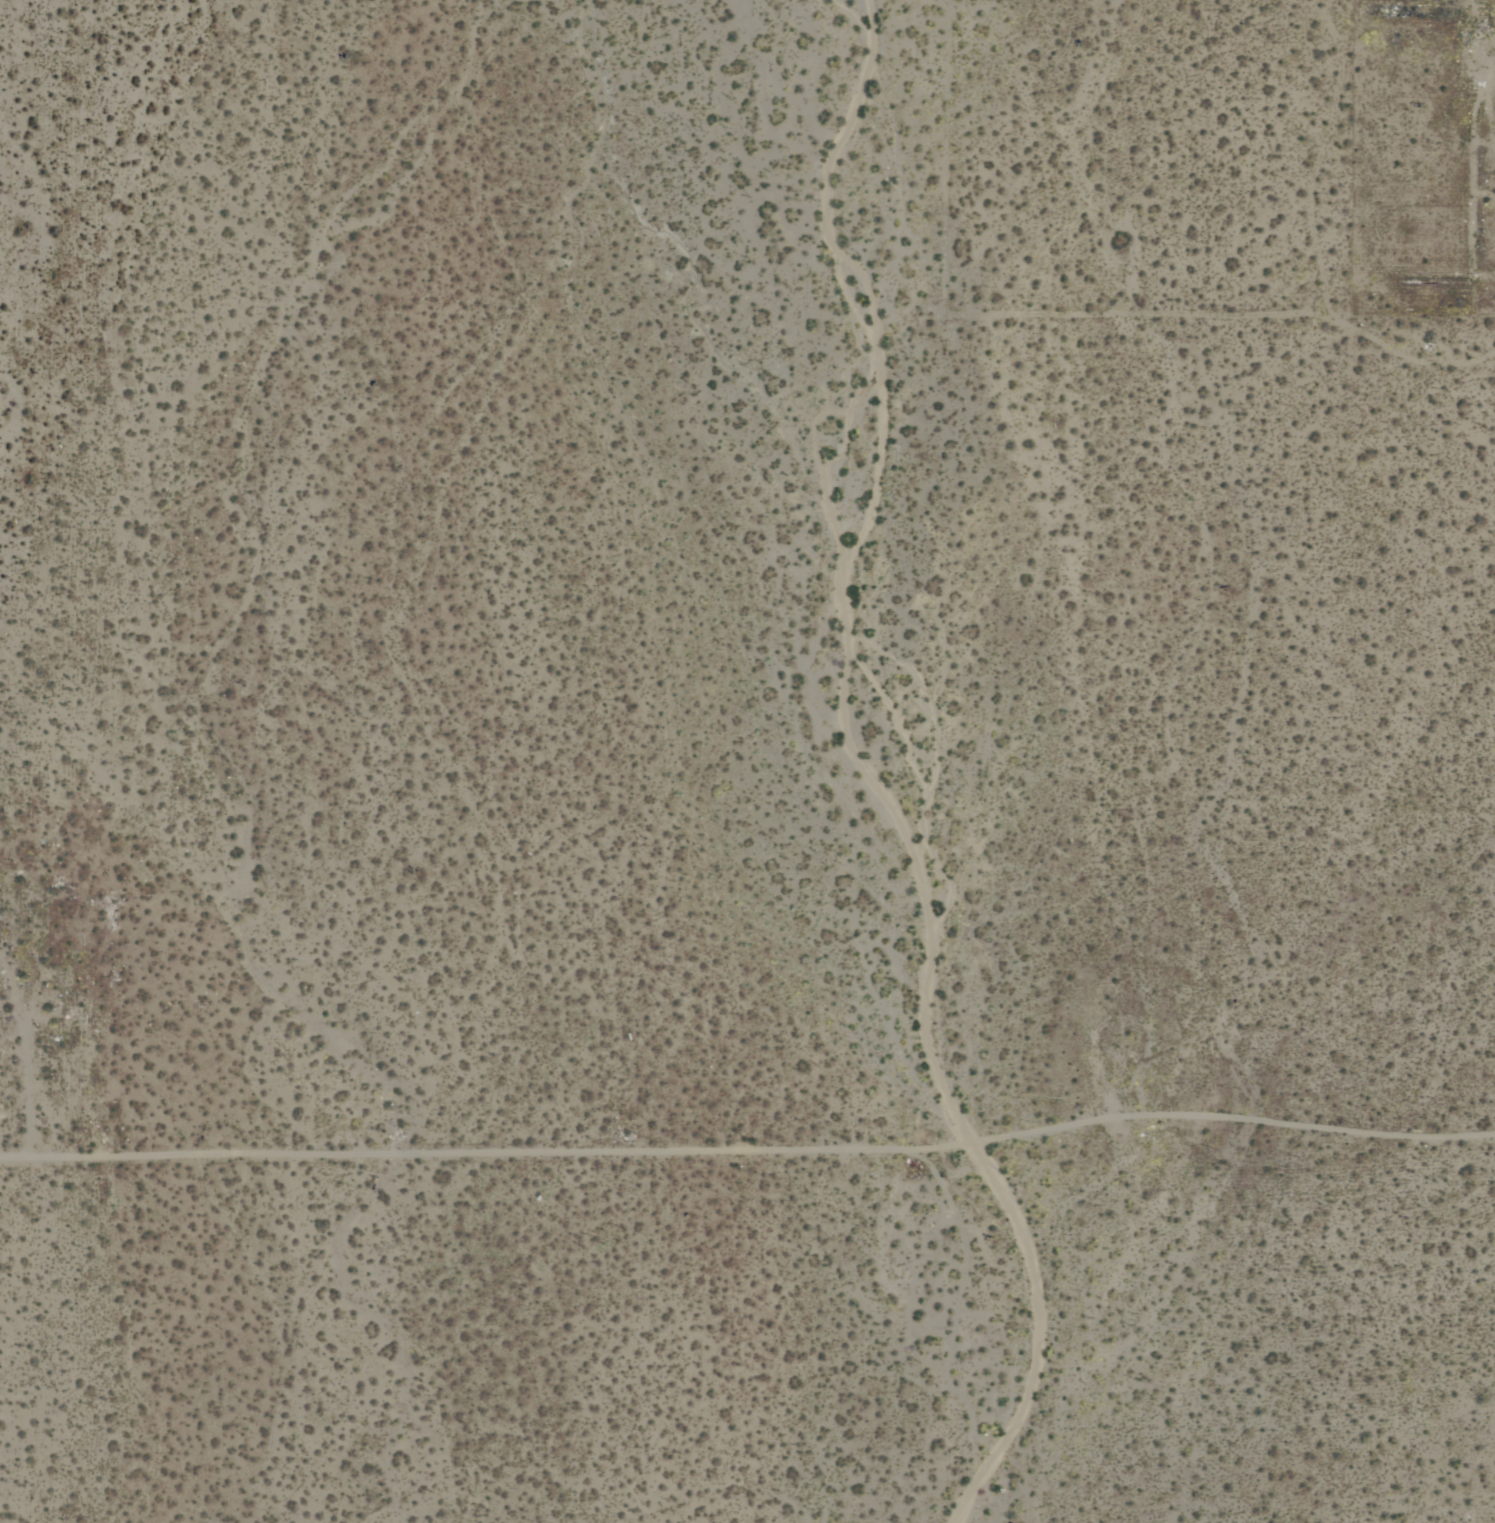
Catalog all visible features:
road: (747, 1145)

